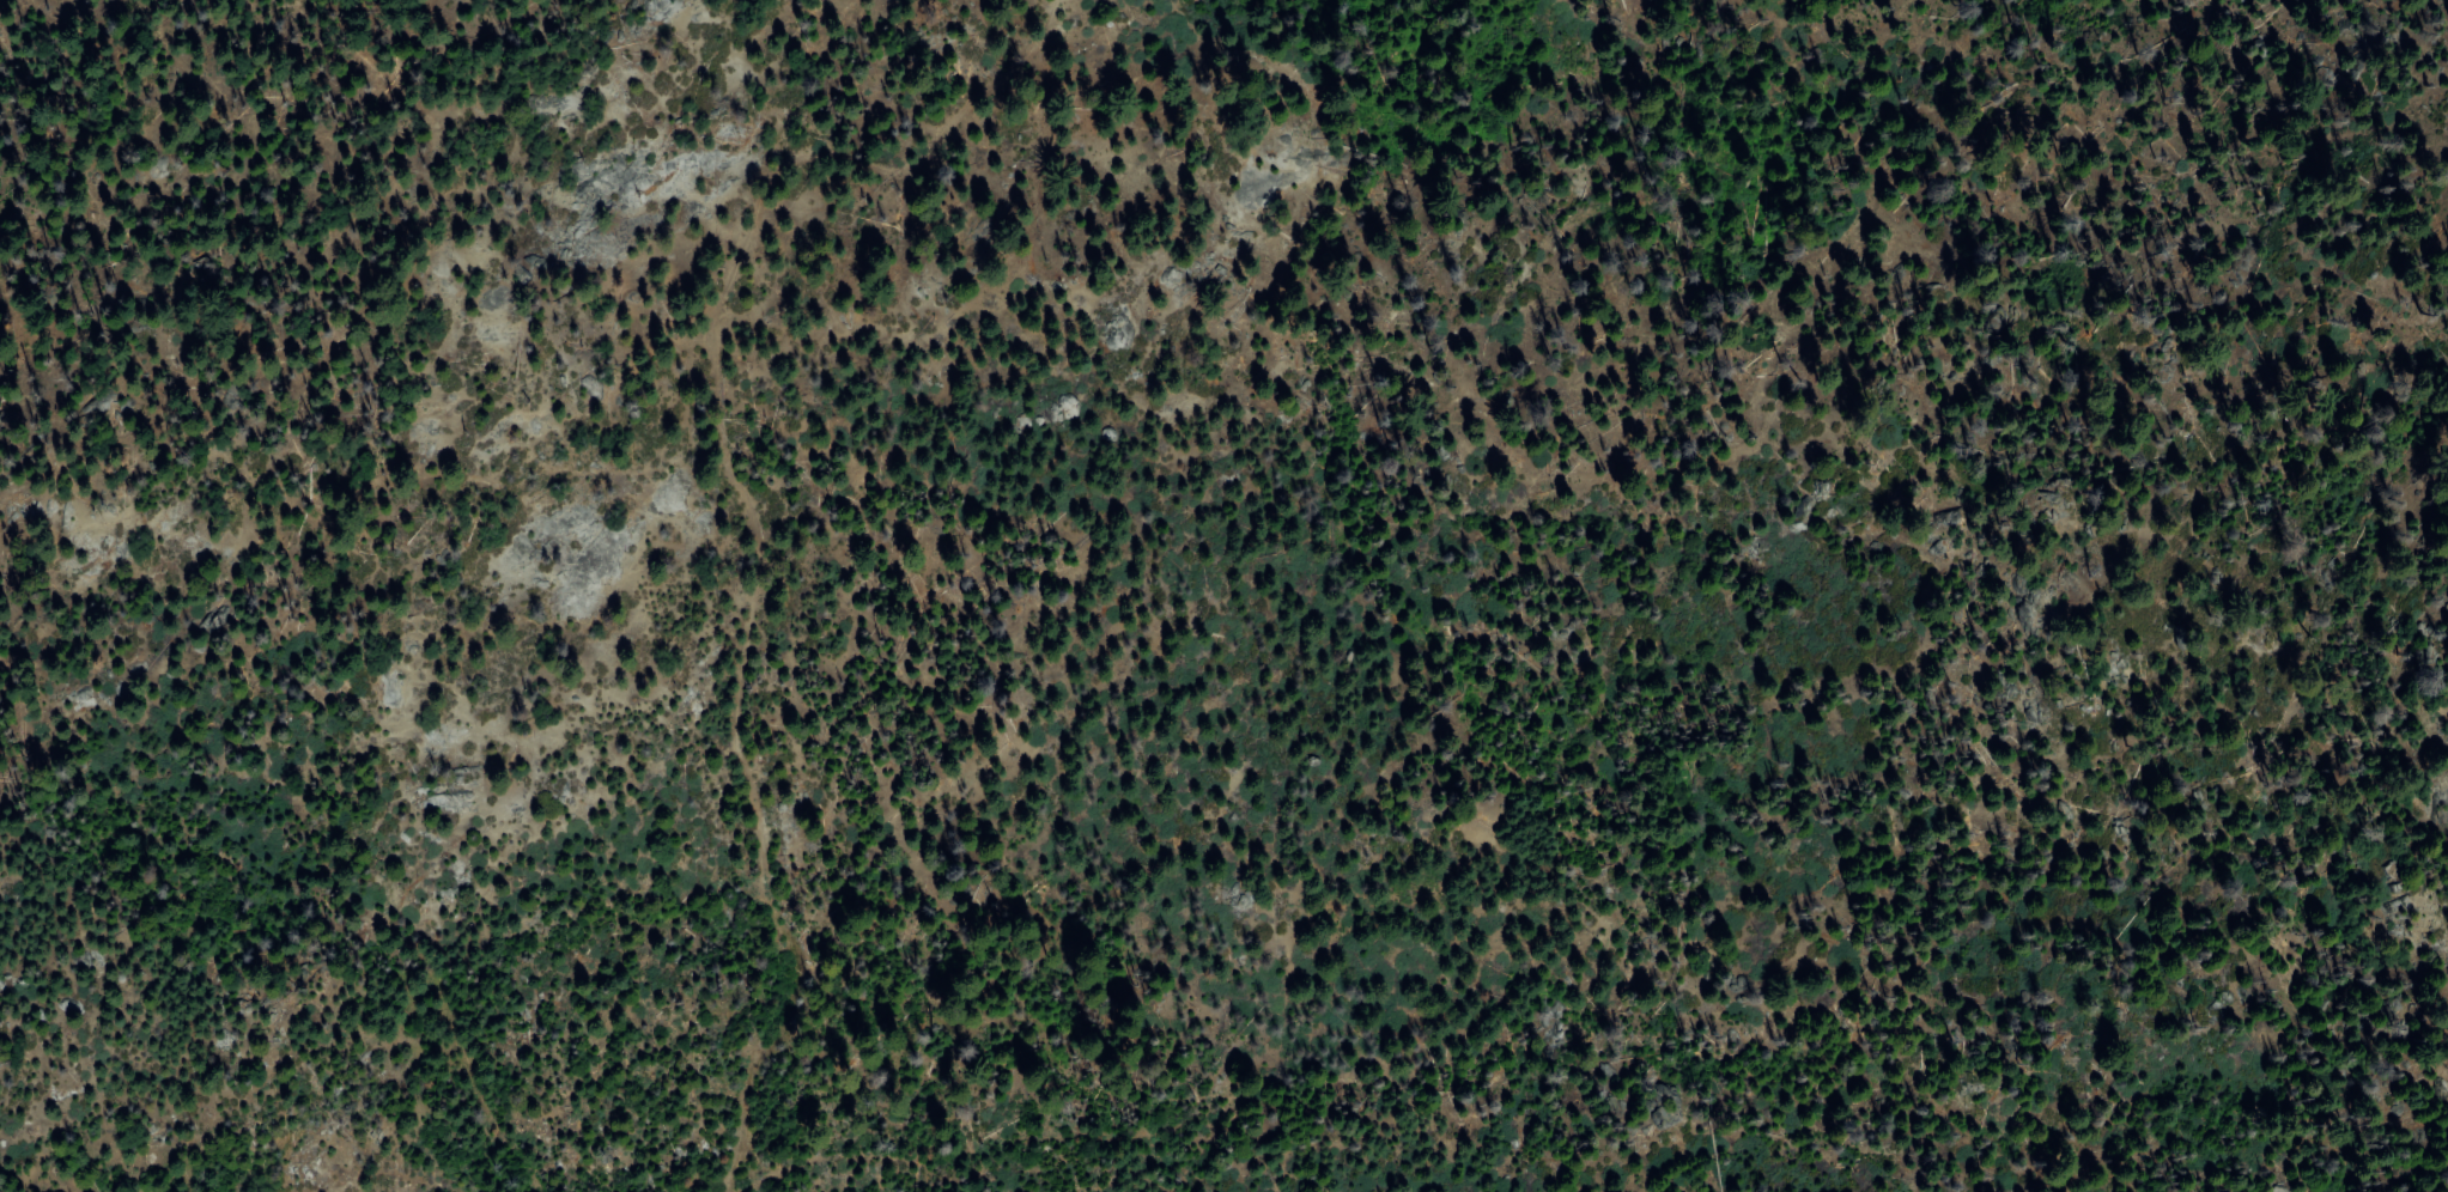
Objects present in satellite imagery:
building: (2237, 1014)

